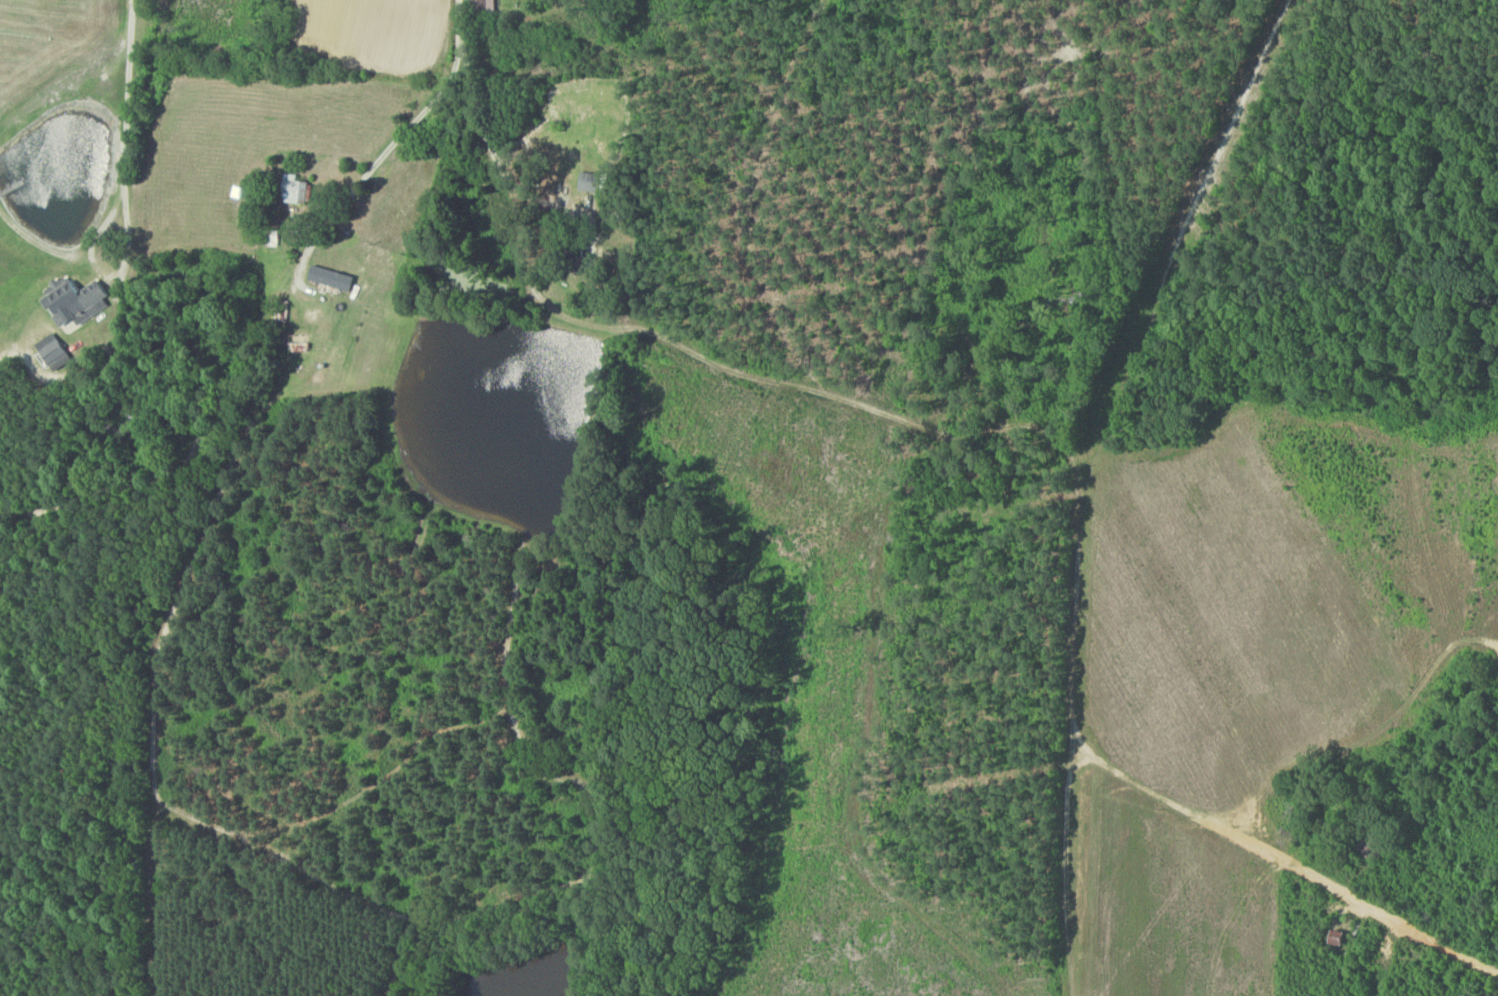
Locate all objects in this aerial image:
building: (485, 6)
road: (128, 81)
road: (396, 138)
building: (594, 181)
building: (297, 189)
road: (108, 267)
building: (334, 277)
building: (79, 299)
building: (55, 352)
road: (796, 383)
road: (1282, 854)

